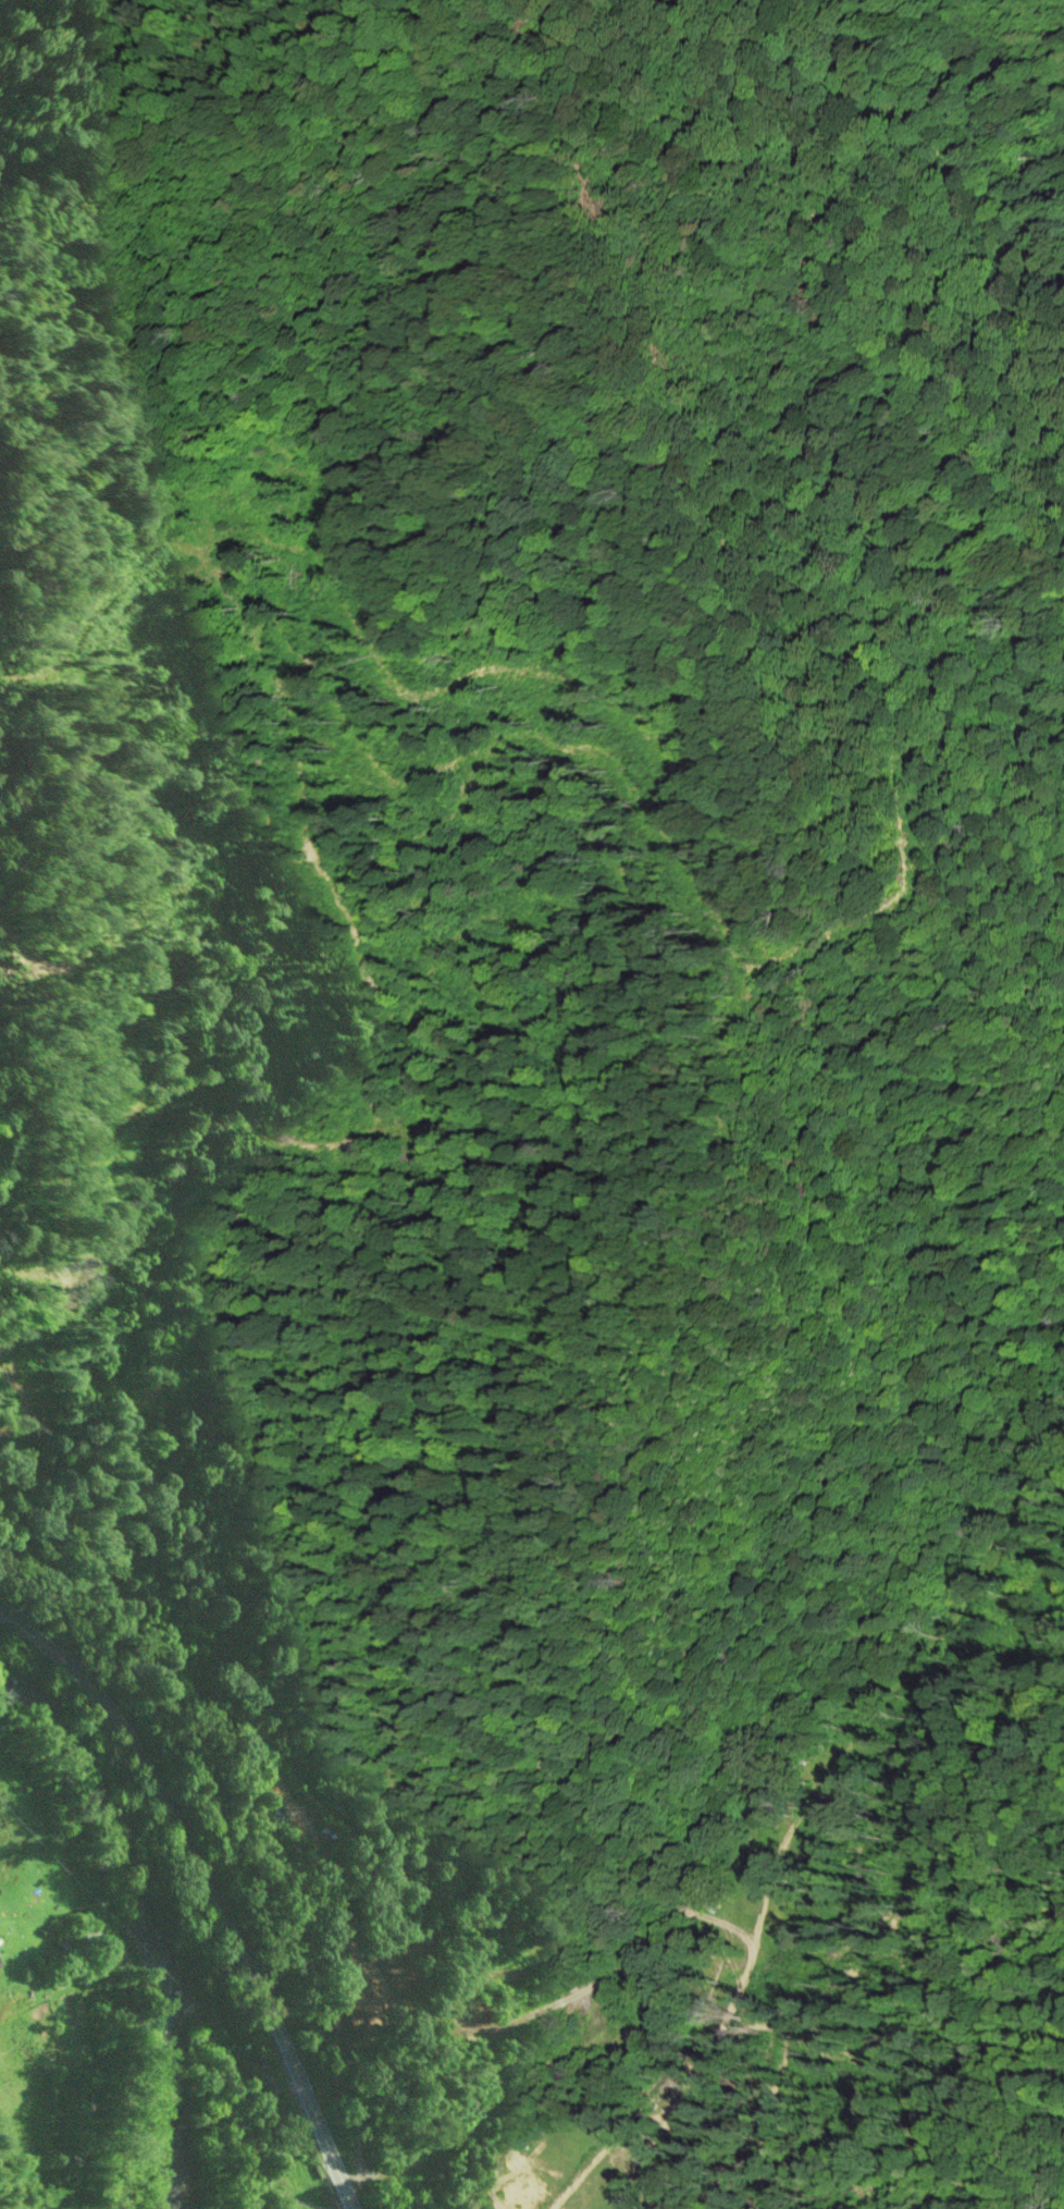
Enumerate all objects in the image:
road: (219, 1880)
river: (159, 1917)
building: (363, 1996)

